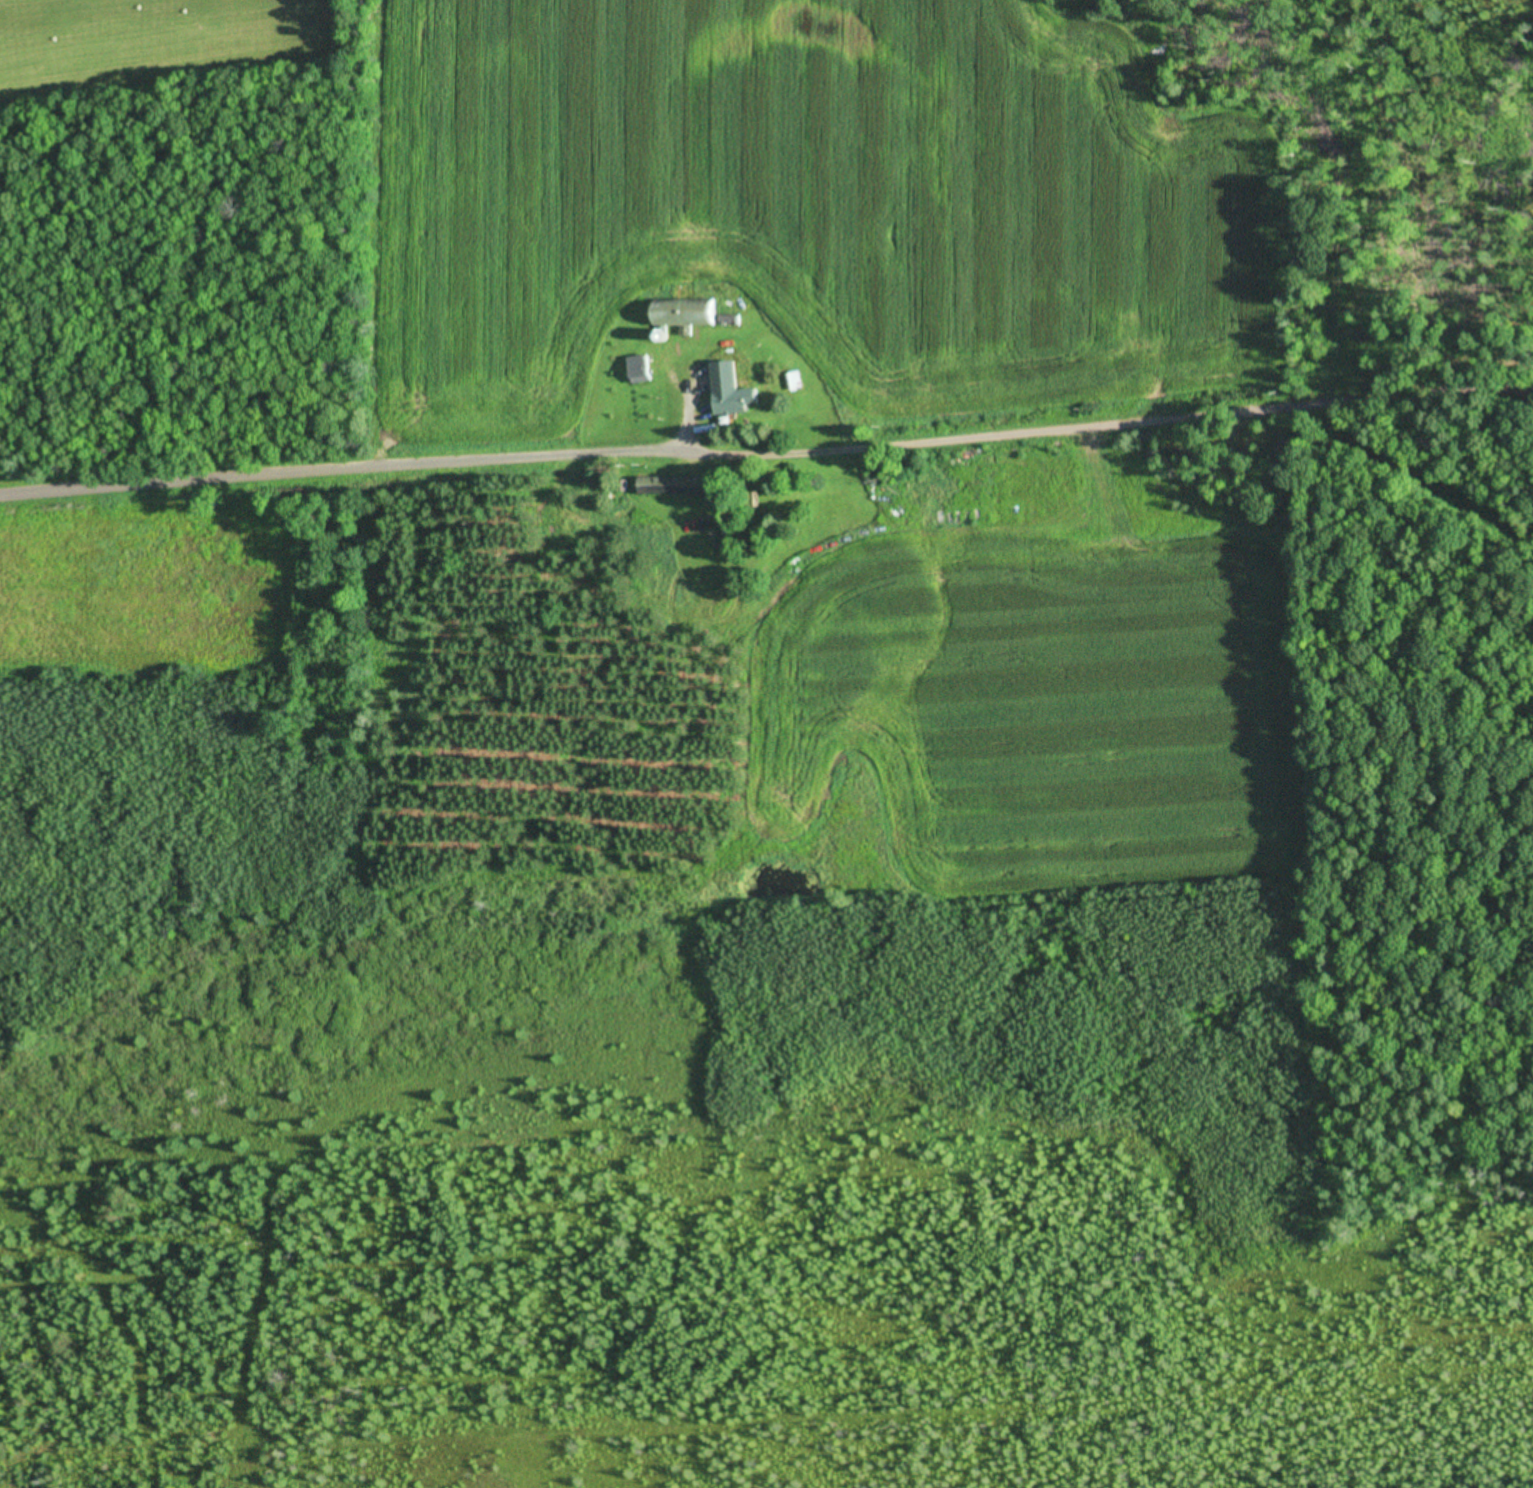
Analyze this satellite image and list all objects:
building: (691, 312)
building: (643, 375)
building: (798, 380)
building: (740, 399)
road: (765, 437)
building: (680, 487)

